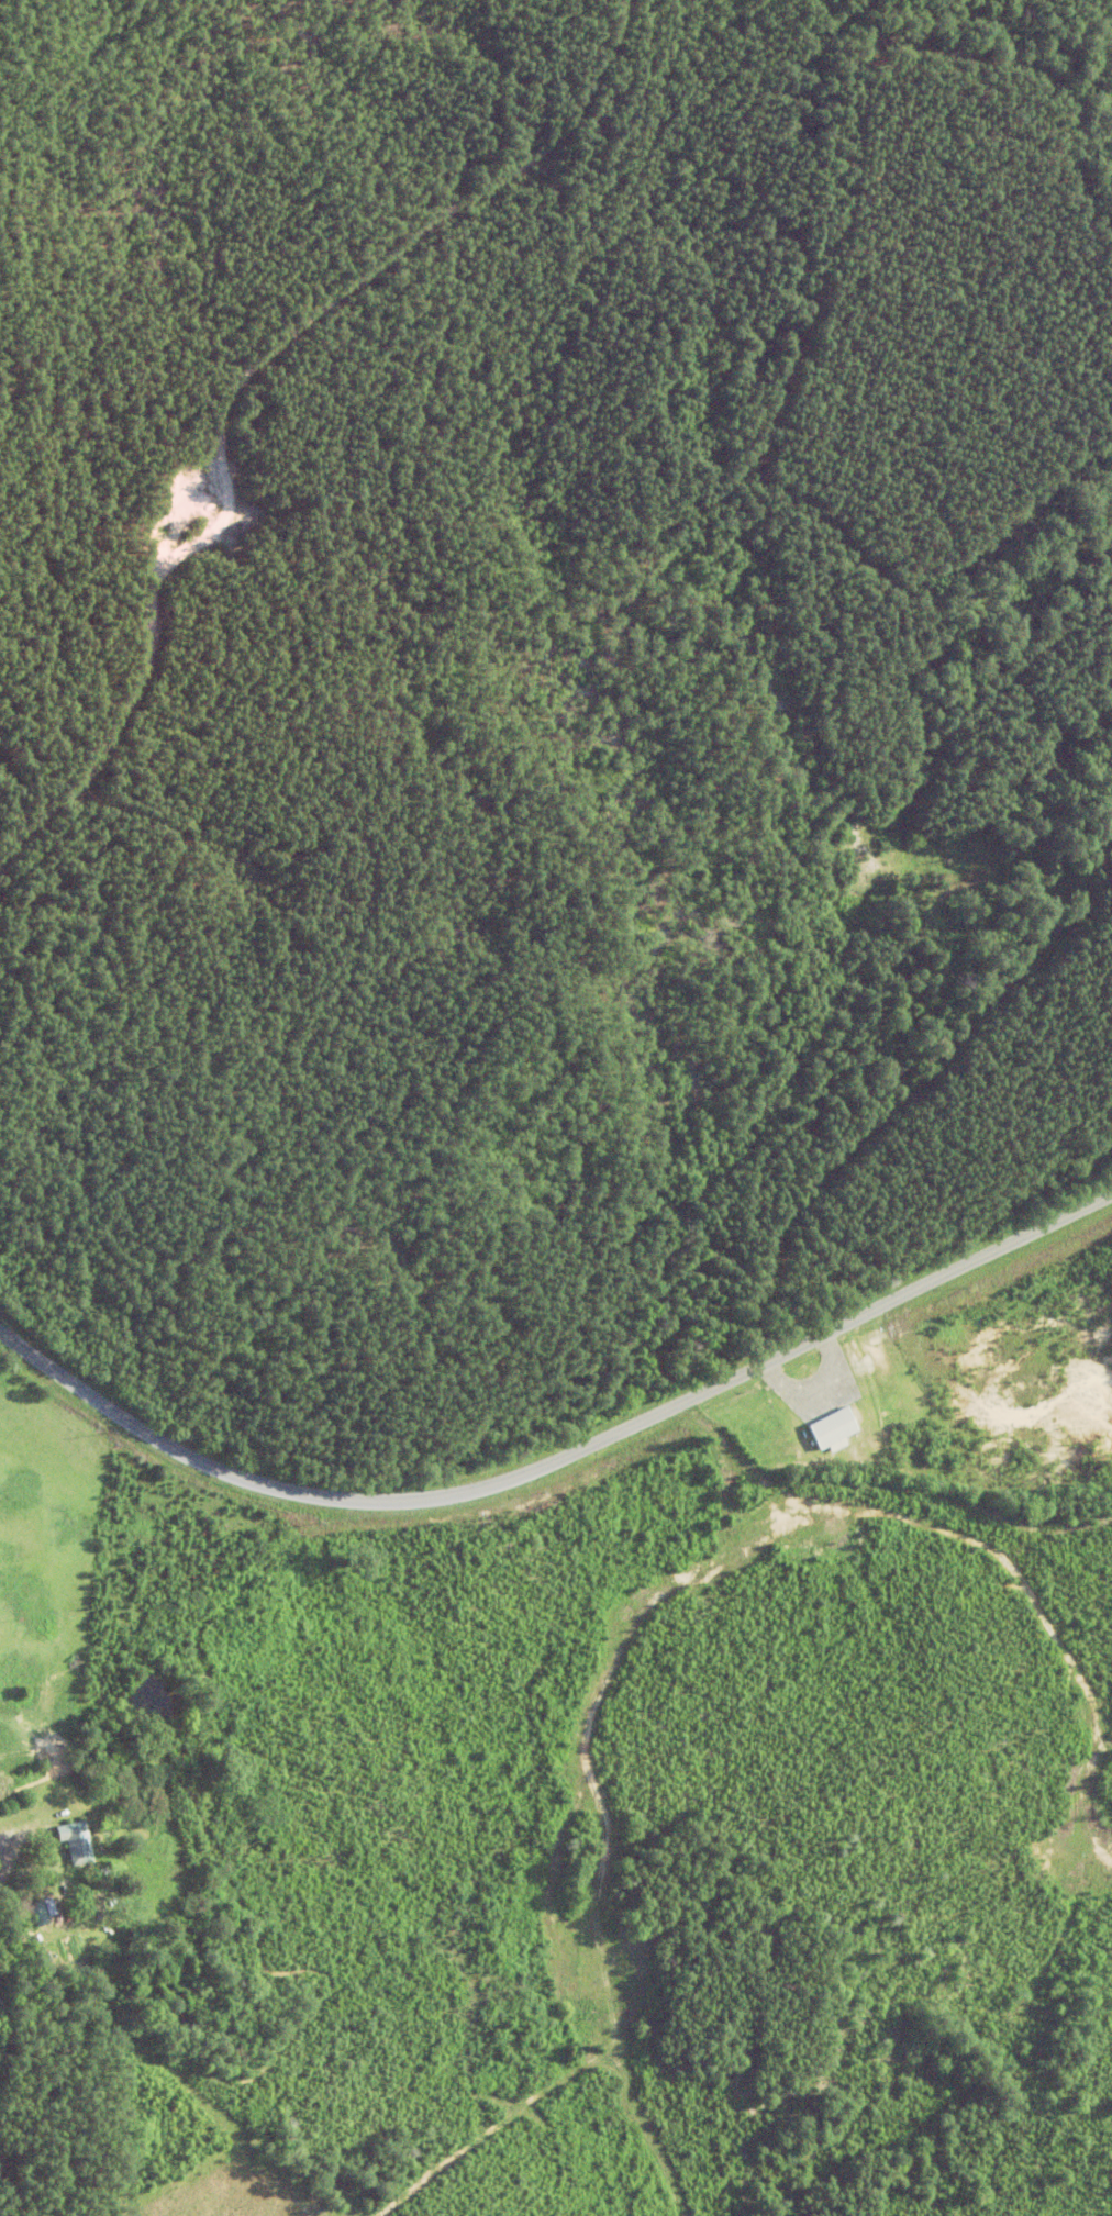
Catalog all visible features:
building: (807, 1429)
road: (557, 1450)
building: (64, 1840)
building: (26, 1912)

